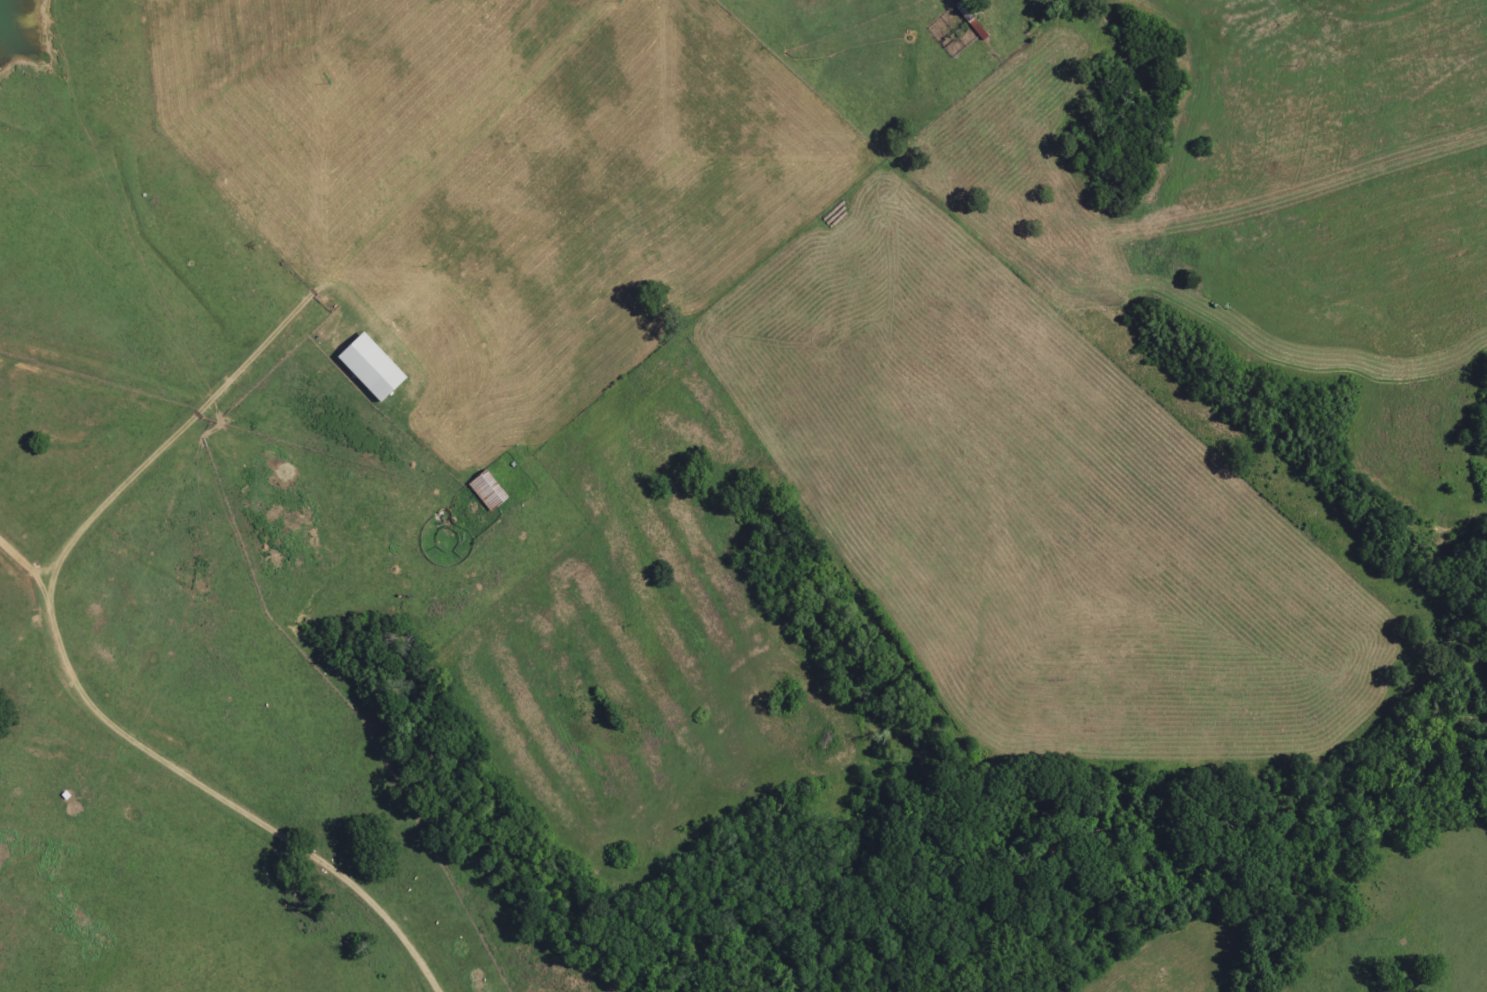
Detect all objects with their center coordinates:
road: (336, 295)
building: (368, 367)
road: (201, 776)

